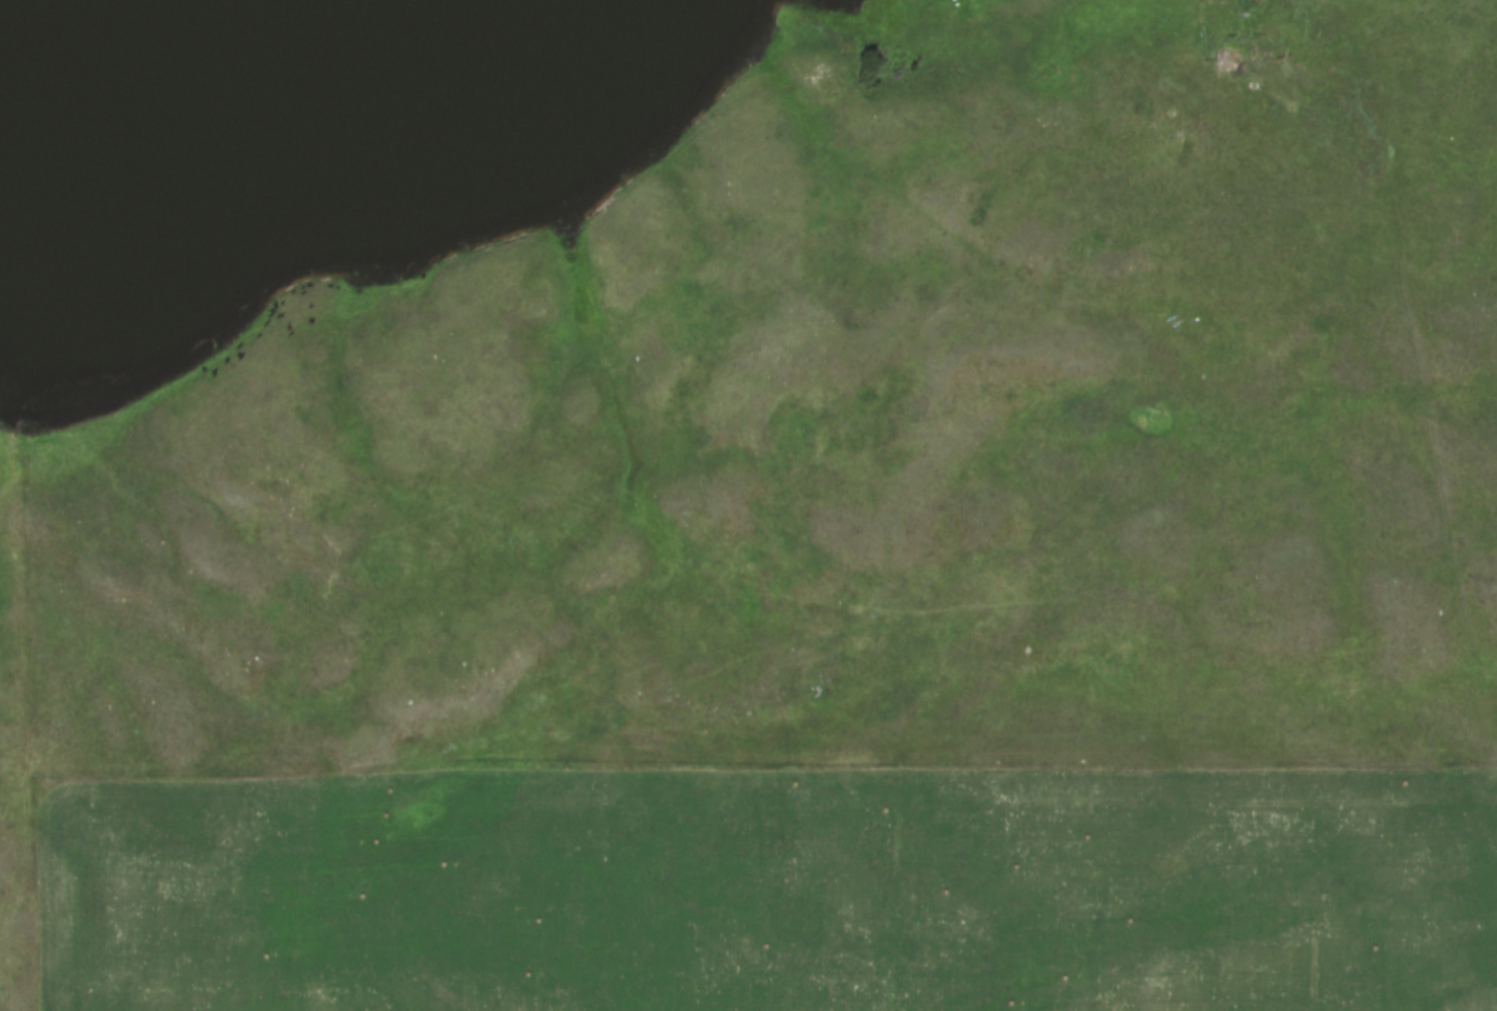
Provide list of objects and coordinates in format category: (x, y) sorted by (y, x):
road: (1435, 366)

